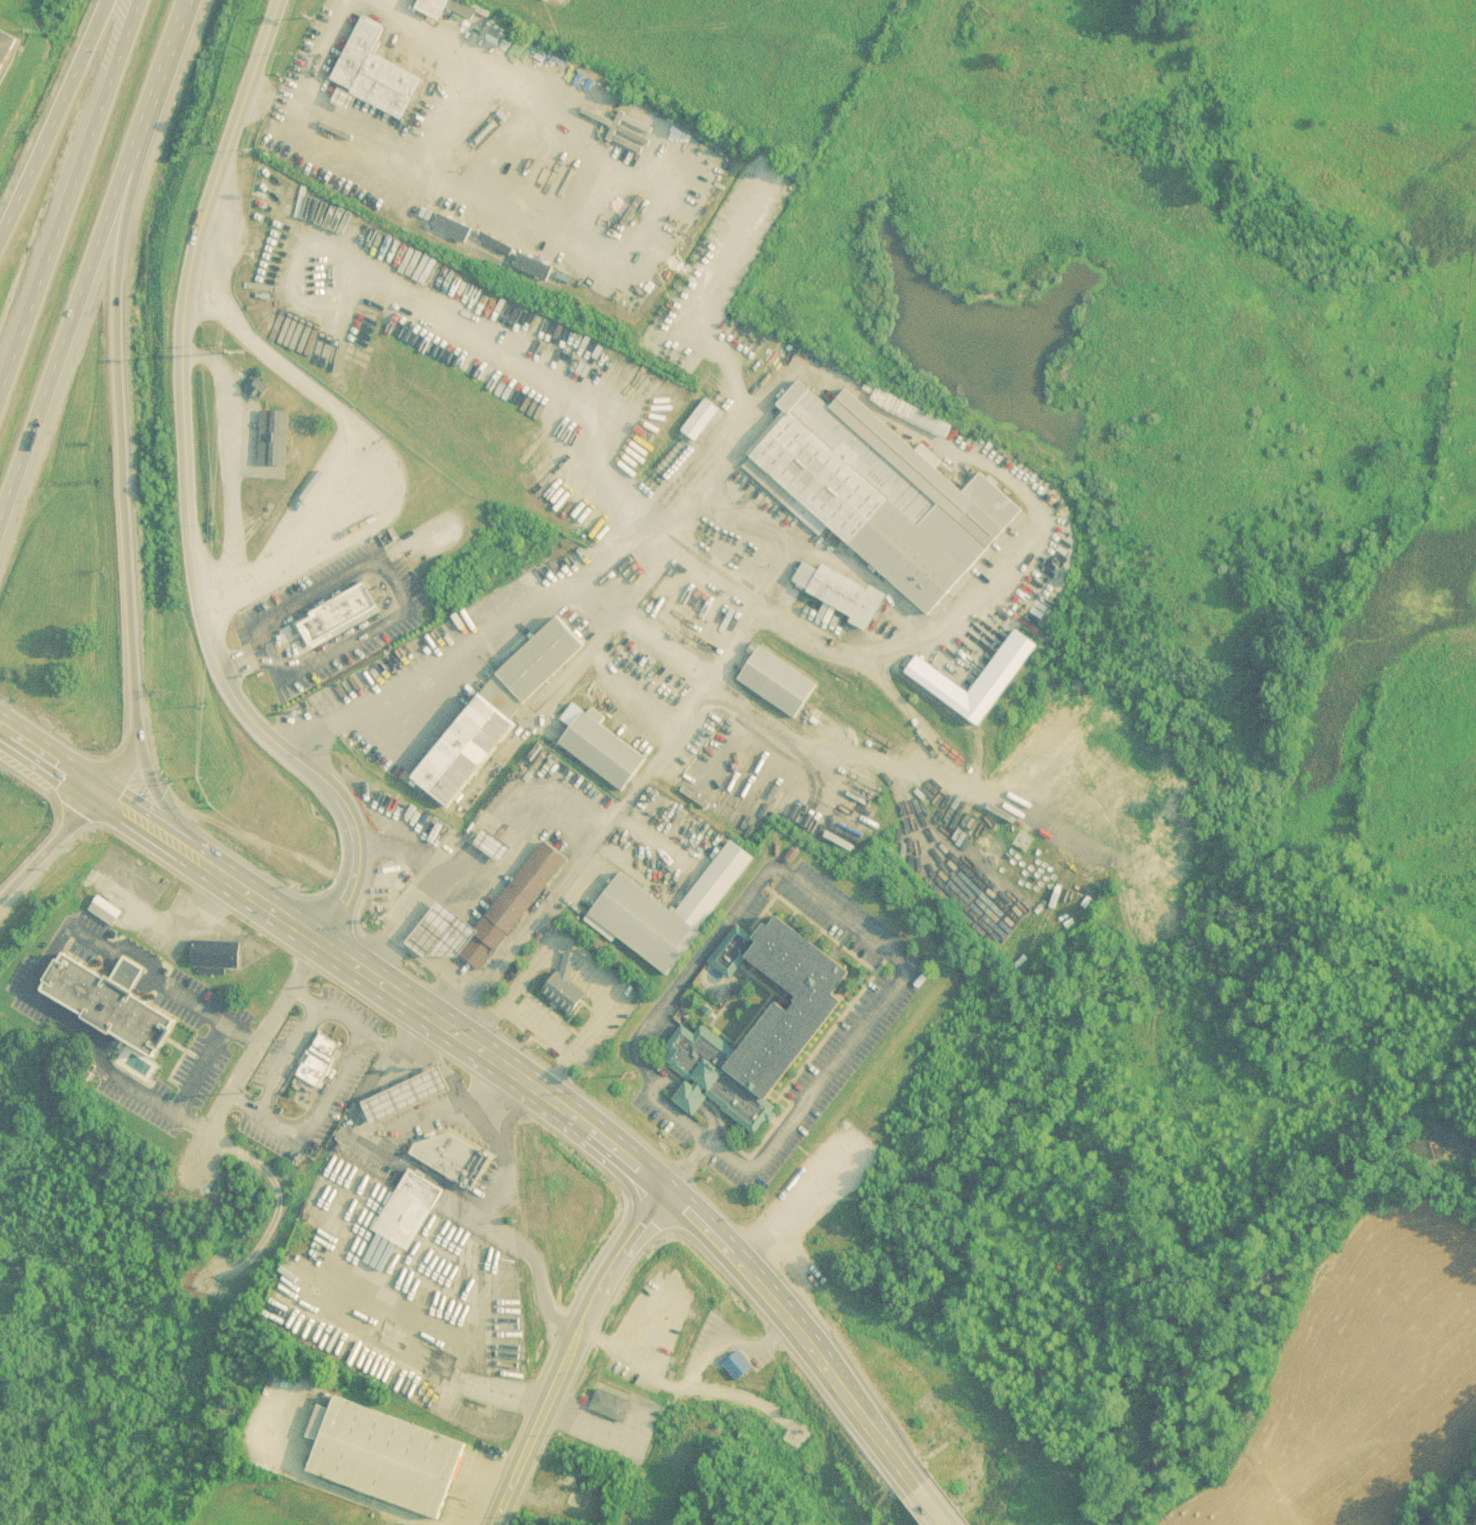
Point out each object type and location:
building: (6, 47)
building: (375, 71)
building: (446, 98)
road: (50, 115)
road: (64, 185)
road: (90, 253)
building: (255, 387)
building: (910, 413)
building: (701, 420)
road: (357, 435)
building: (273, 438)
road: (116, 448)
road: (228, 468)
road: (187, 494)
building: (878, 494)
building: (854, 601)
building: (338, 612)
parking lot: (331, 618)
building: (541, 659)
building: (776, 681)
building: (602, 749)
building: (464, 751)
road: (51, 759)
road: (149, 771)
traffic signals: (103, 794)
building: (1098, 806)
road: (567, 814)
building: (1119, 825)
road: (154, 827)
road: (51, 846)
road: (411, 853)
building: (538, 870)
road: (237, 882)
building: (108, 911)
building: (653, 919)
road: (844, 919)
building: (493, 927)
gas station: (440, 931)
building: (215, 955)
road: (356, 959)
road: (43, 961)
parking lot: (463, 976)
building: (563, 986)
building: (111, 999)
building: (751, 1018)
parking lot: (131, 1019)
road: (342, 1021)
parking lot: (539, 1026)
parking lot: (859, 1029)
road: (406, 1042)
road: (297, 1045)
road: (256, 1048)
building: (316, 1062)
road: (200, 1068)
parking lot: (309, 1075)
road: (335, 1083)
road: (464, 1089)
building: (406, 1094)
gas station: (407, 1095)
road: (263, 1117)
parking lot: (430, 1133)
building: (445, 1154)
building: (475, 1169)
building: (408, 1209)
road: (696, 1221)
river: (1277, 1324)
road: (575, 1352)
building: (608, 1405)
parking lot: (614, 1429)
building: (386, 1455)
parking lot: (463, 1490)
road: (915, 1501)

